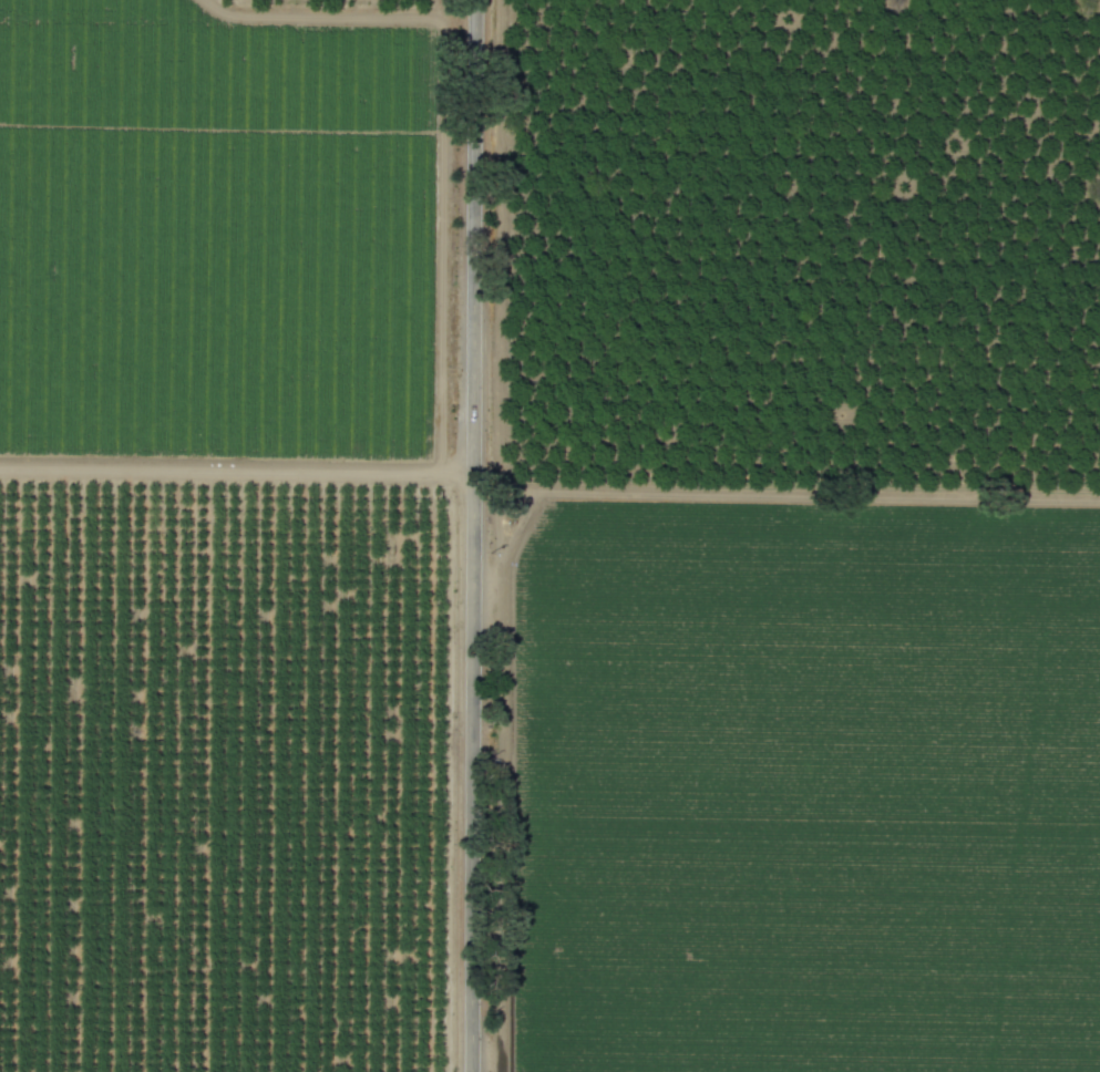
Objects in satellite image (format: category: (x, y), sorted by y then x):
road: (471, 535)

